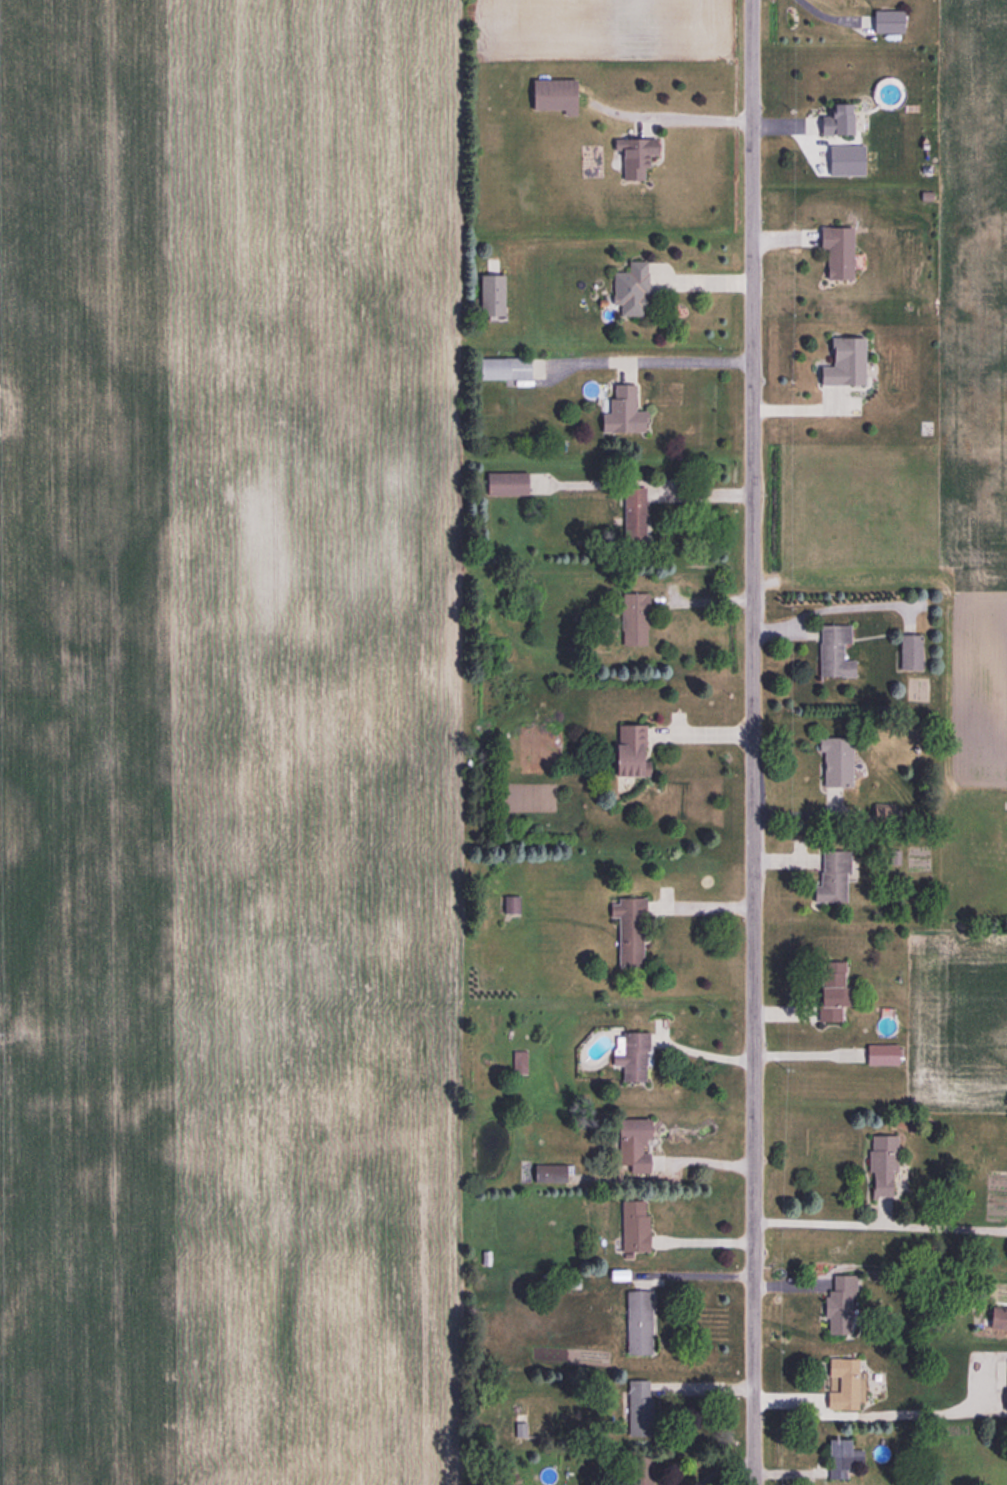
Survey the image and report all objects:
building: (885, 21)
building: (552, 95)
road: (696, 117)
building: (834, 120)
building: (630, 157)
building: (835, 251)
building: (628, 288)
building: (489, 293)
road: (687, 361)
building: (842, 361)
building: (502, 366)
building: (621, 411)
building: (503, 483)
road: (700, 492)
building: (633, 512)
building: (632, 618)
building: (832, 651)
building: (908, 651)
road: (703, 731)
road: (756, 742)
building: (627, 750)
building: (834, 761)
building: (833, 875)
building: (509, 903)
road: (702, 906)
building: (627, 928)
building: (829, 989)
building: (879, 1054)
building: (632, 1057)
road: (704, 1062)
building: (518, 1063)
building: (630, 1144)
building: (881, 1166)
road: (706, 1167)
road: (880, 1222)
building: (633, 1225)
building: (834, 1314)
building: (1003, 1320)
building: (637, 1322)
building: (842, 1383)
building: (1005, 1385)
building: (639, 1407)
road: (872, 1422)
building: (520, 1429)
building: (841, 1457)
building: (638, 1471)

